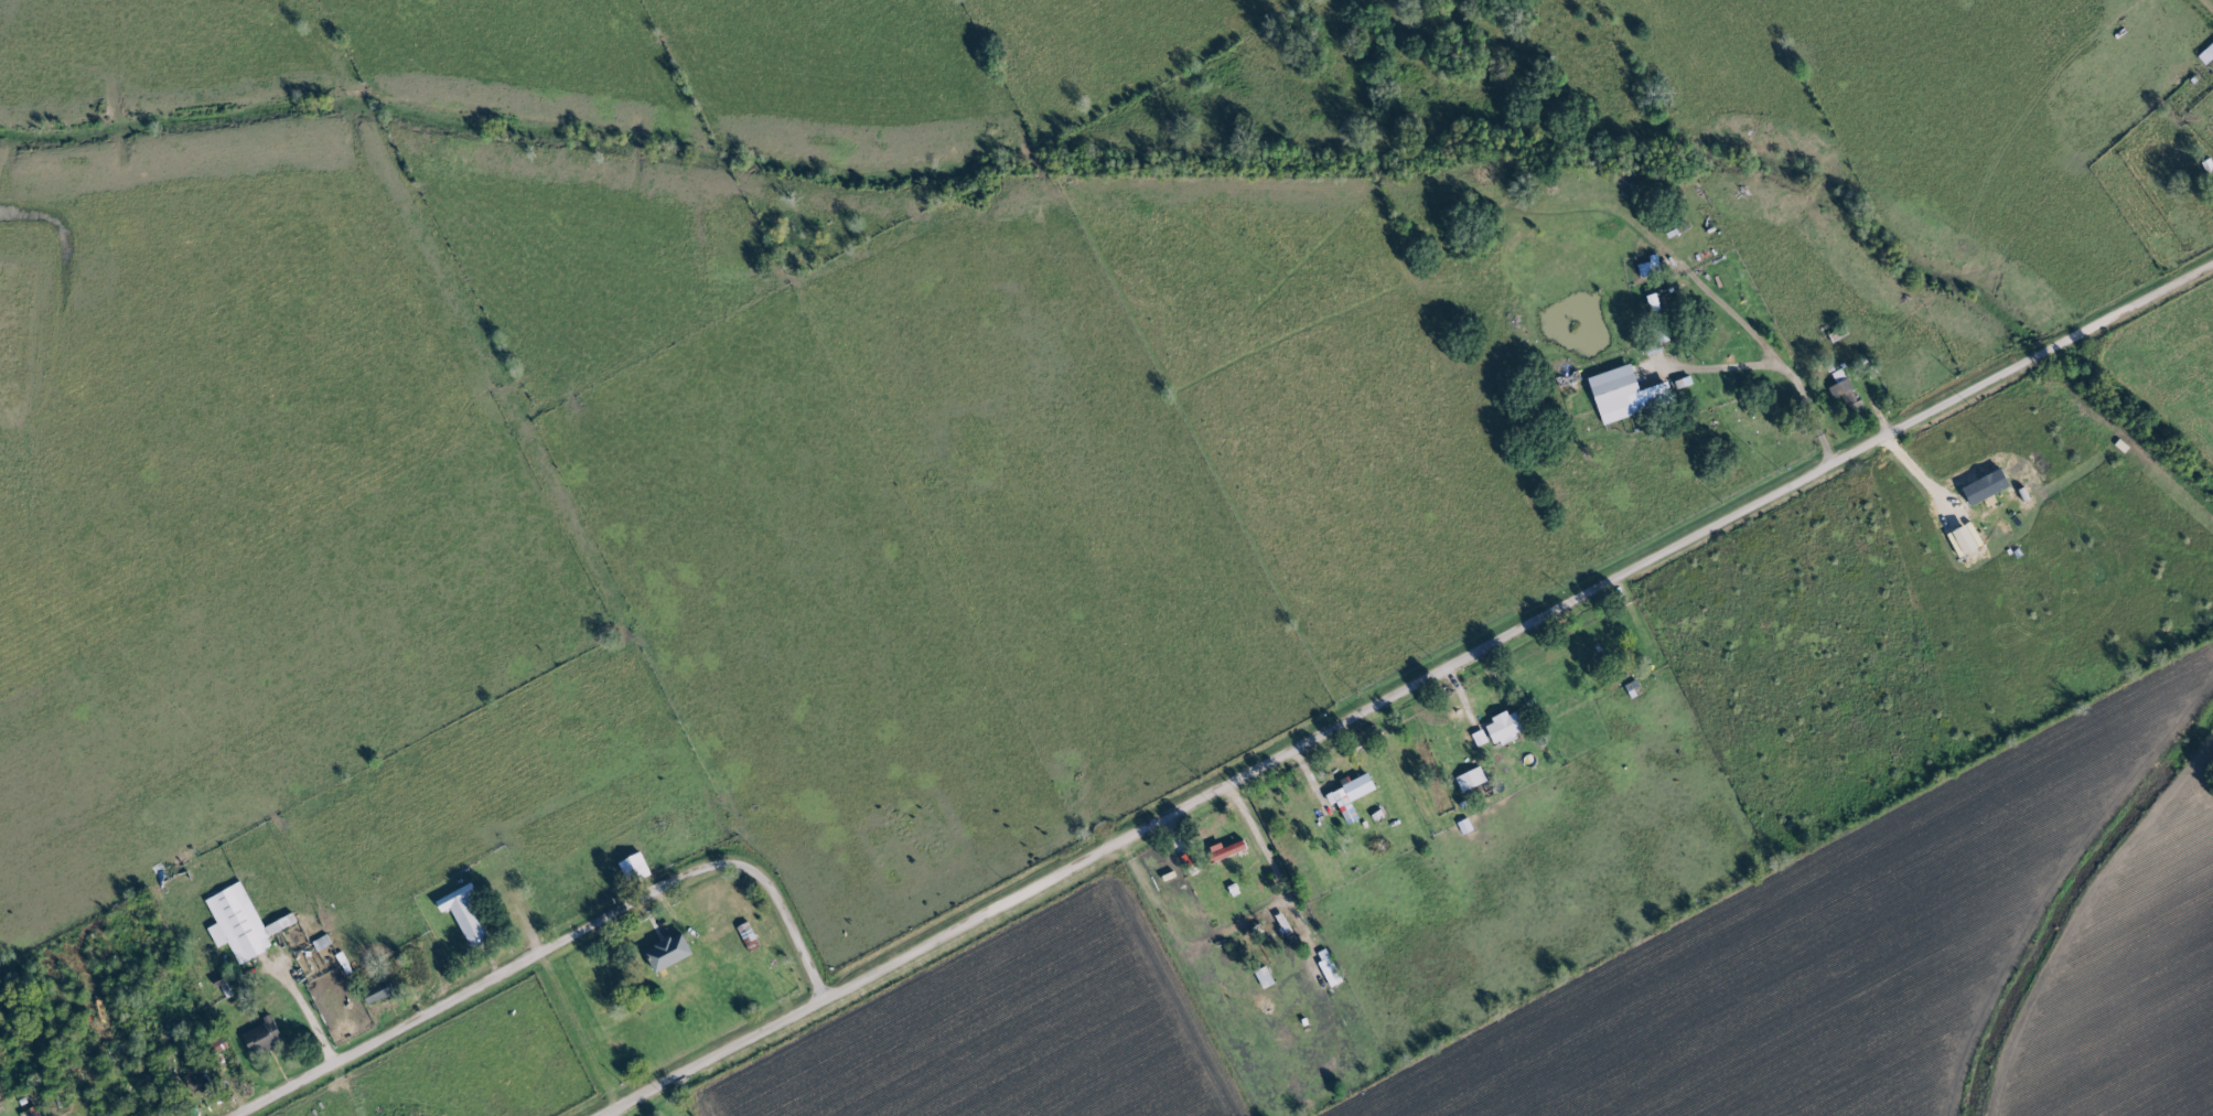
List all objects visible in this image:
building: (1650, 269)
building: (1656, 303)
road: (1794, 389)
building: (1847, 393)
building: (1619, 394)
road: (1916, 417)
road: (1634, 609)
road: (1463, 694)
building: (1507, 728)
building: (1482, 738)
building: (1473, 780)
building: (1354, 793)
road: (1181, 838)
building: (1228, 850)
road: (1110, 851)
building: (637, 868)
building: (468, 914)
building: (244, 924)
road: (794, 936)
building: (672, 953)
building: (1333, 972)
road: (497, 976)
building: (382, 992)
building: (266, 1037)

